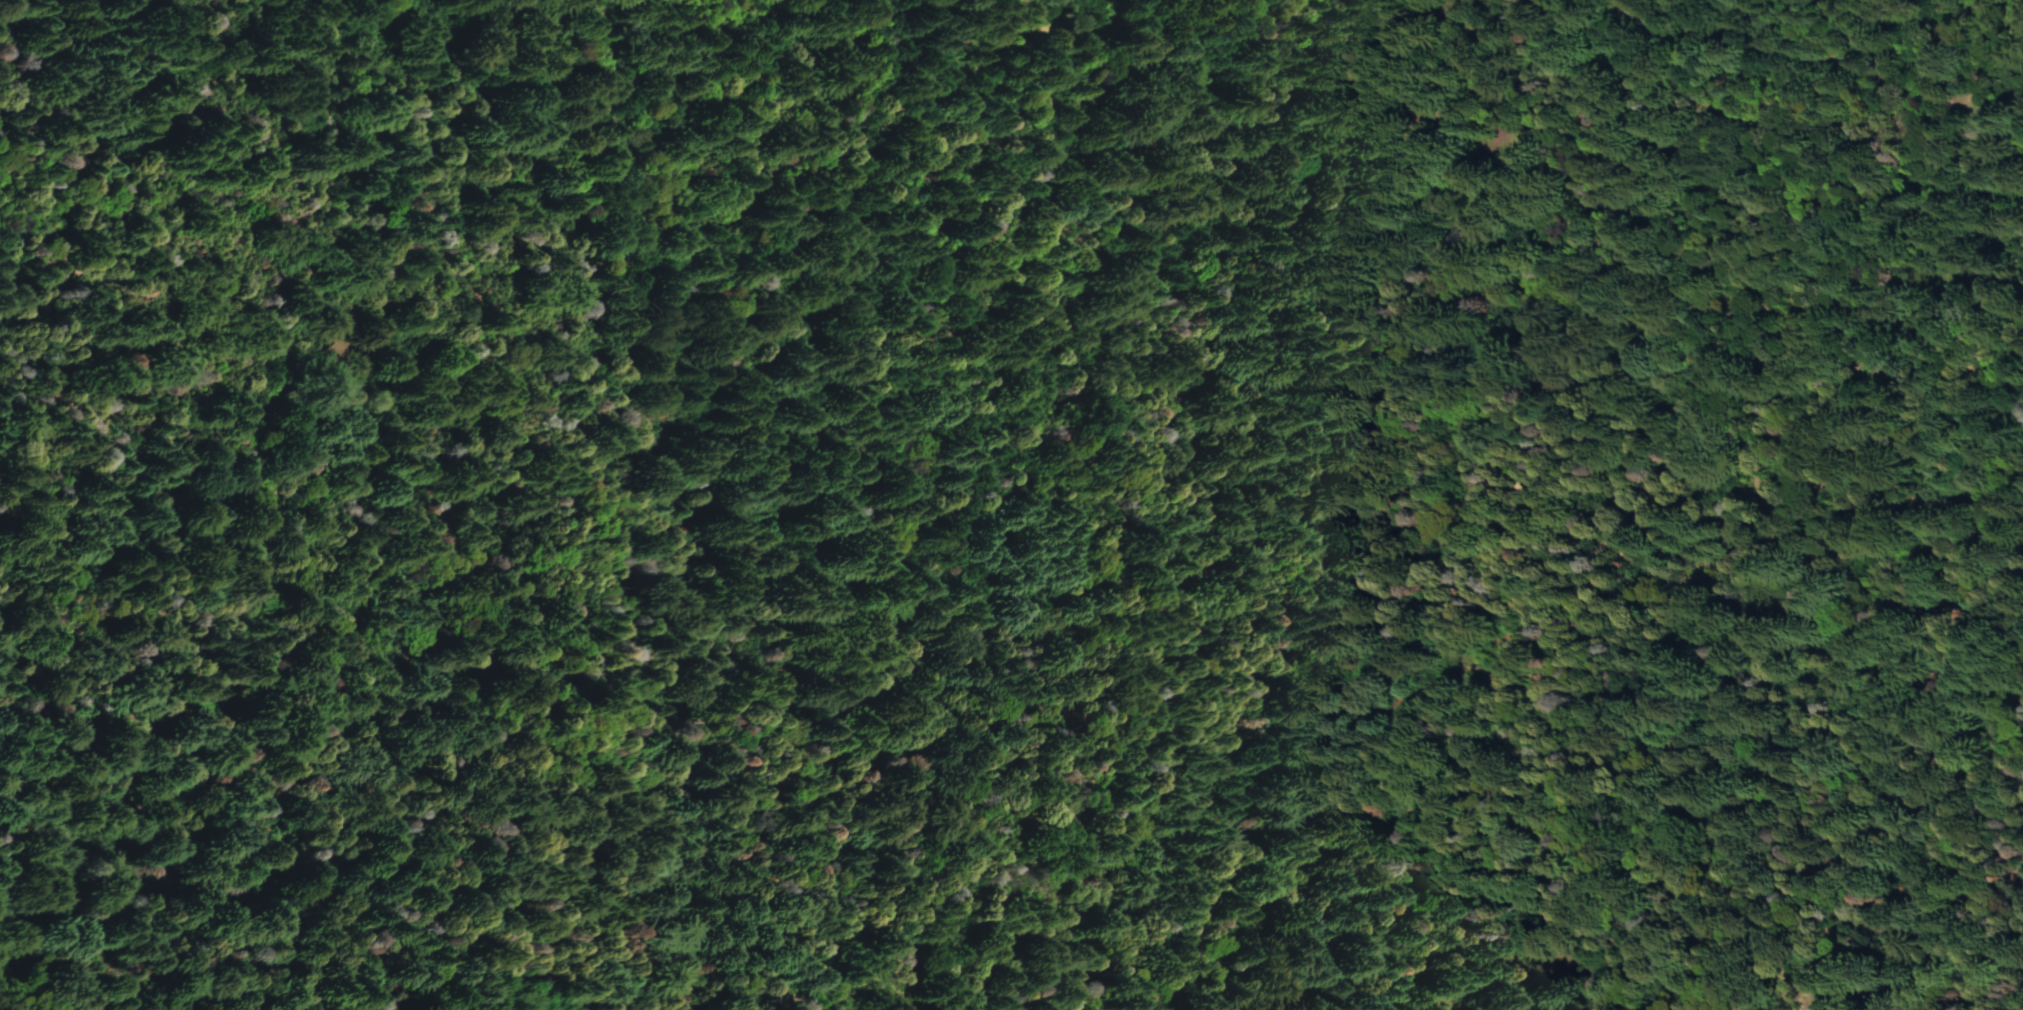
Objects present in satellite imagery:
road: (1807, 66)

